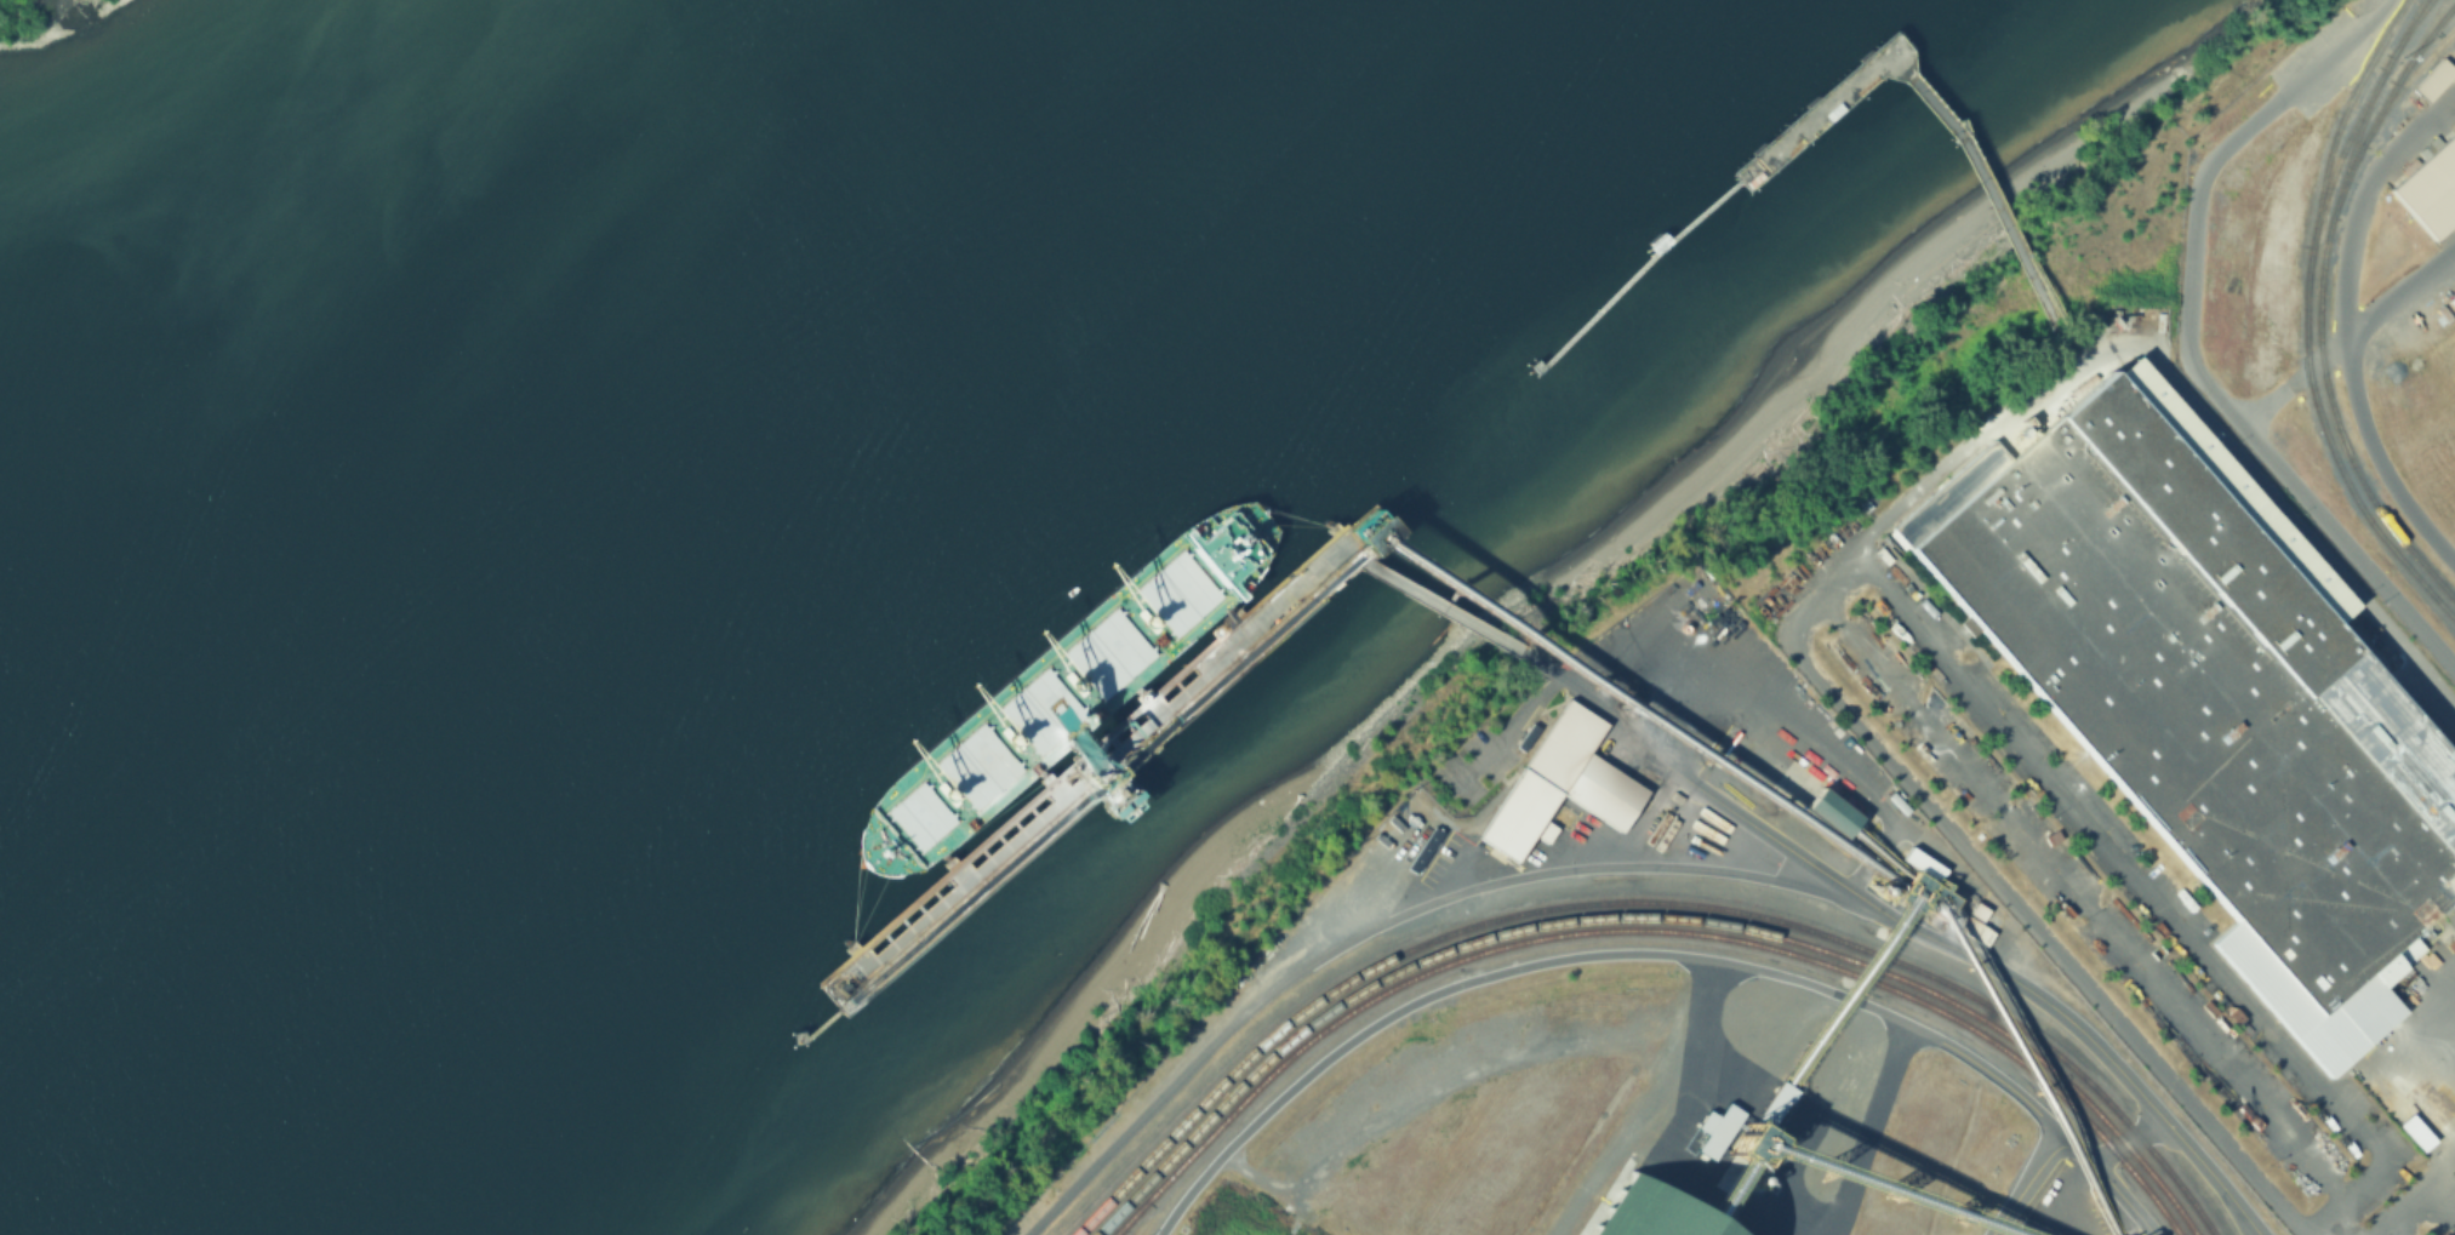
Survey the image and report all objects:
railway: (2413, 25)
railway: (2421, 39)
building: (2454, 40)
building: (2433, 79)
railway: (2407, 82)
railway: (2341, 116)
building: (2426, 181)
road: (2362, 190)
pier: (1632, 274)
pier: (2028, 298)
building: (2451, 299)
railway: (2318, 304)
railway: (2305, 321)
road: (2348, 333)
road: (2187, 350)
road: (2393, 447)
river: (611, 456)
building: (1866, 503)
road: (1840, 578)
railway: (2402, 676)
pier: (1164, 703)
building: (2198, 710)
building: (1525, 733)
building: (1560, 785)
building: (1832, 811)
building: (1545, 830)
building: (1923, 863)
building: (1924, 896)
road: (2086, 900)
road: (2154, 900)
railway: (1645, 902)
railway: (1650, 917)
road: (1380, 928)
railway: (1646, 928)
building: (1974, 930)
road: (1960, 954)
road: (1654, 956)
building: (1757, 1127)
road: (2451, 1130)
building: (2419, 1133)
road: (2442, 1171)
road: (2025, 1182)
building: (1652, 1212)

